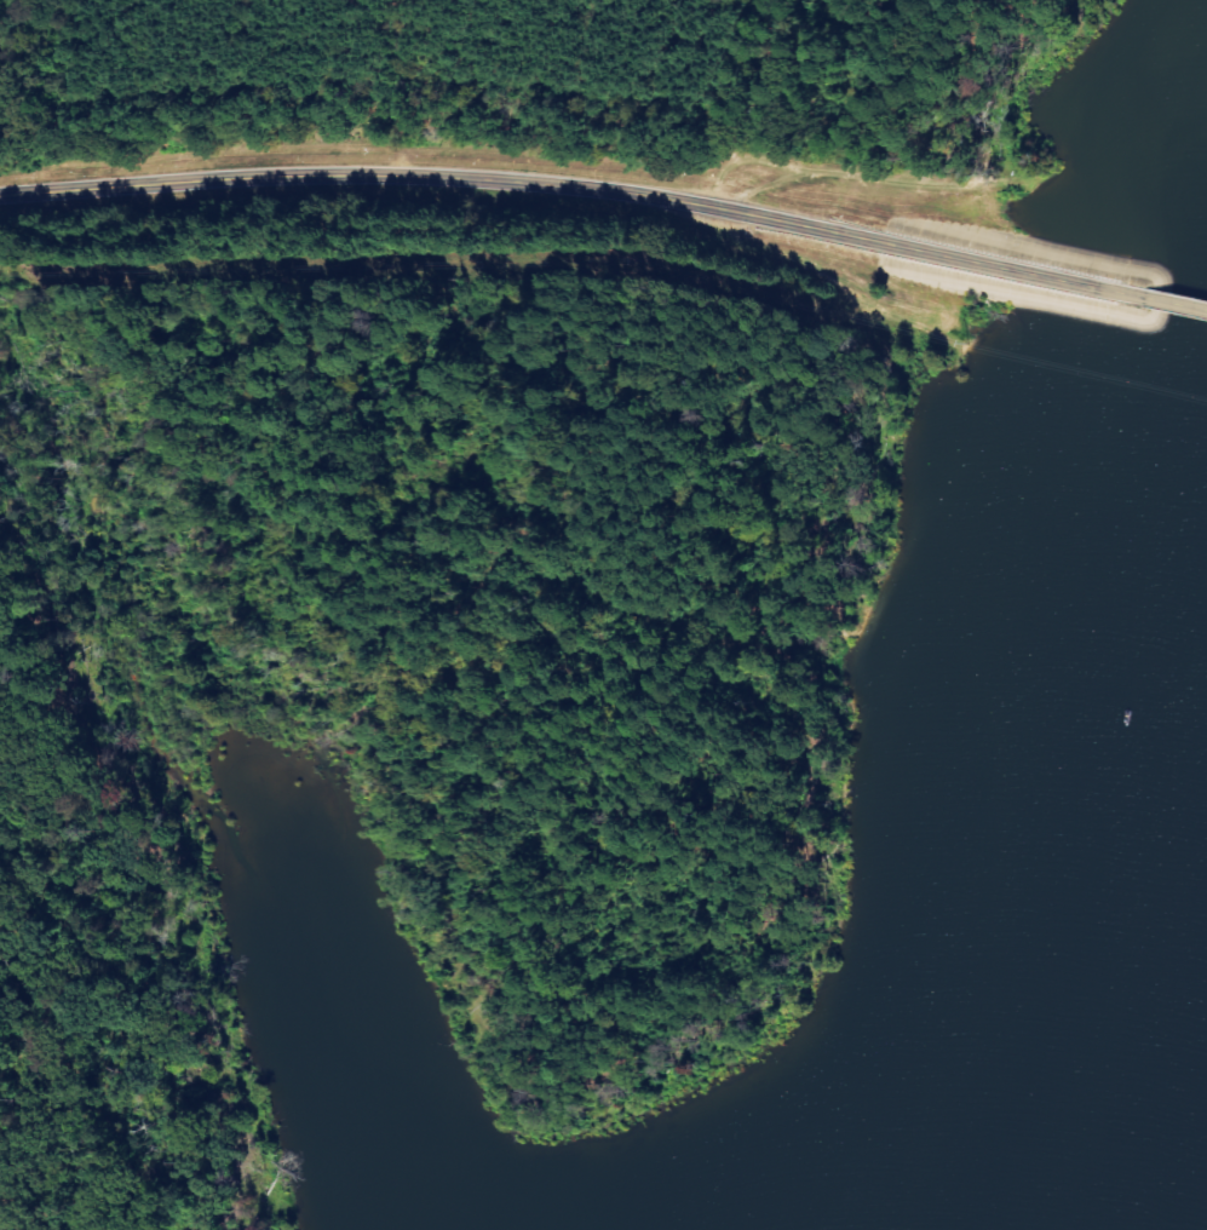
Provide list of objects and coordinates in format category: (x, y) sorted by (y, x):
road: (447, 174)
road: (1012, 268)
road: (1171, 301)
road: (398, 559)

